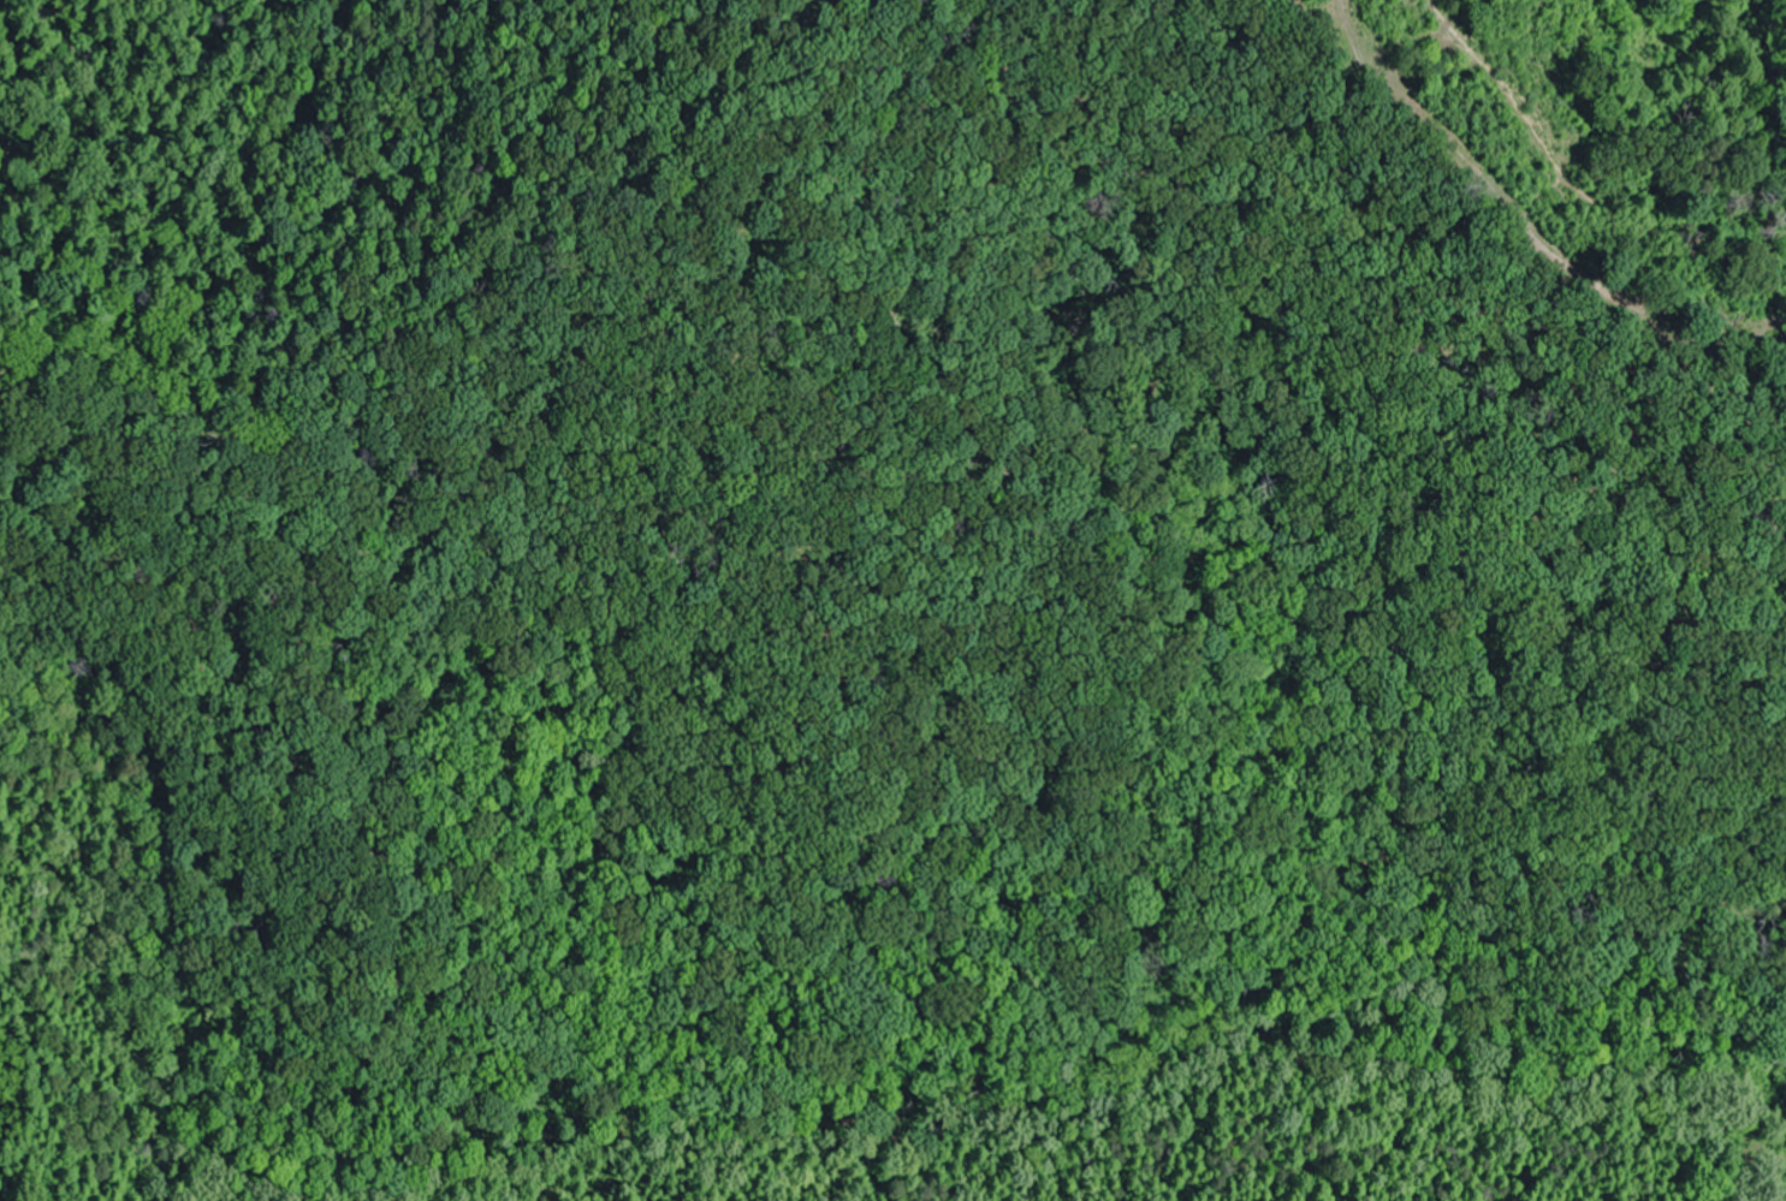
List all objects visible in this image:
road: (1548, 225)

